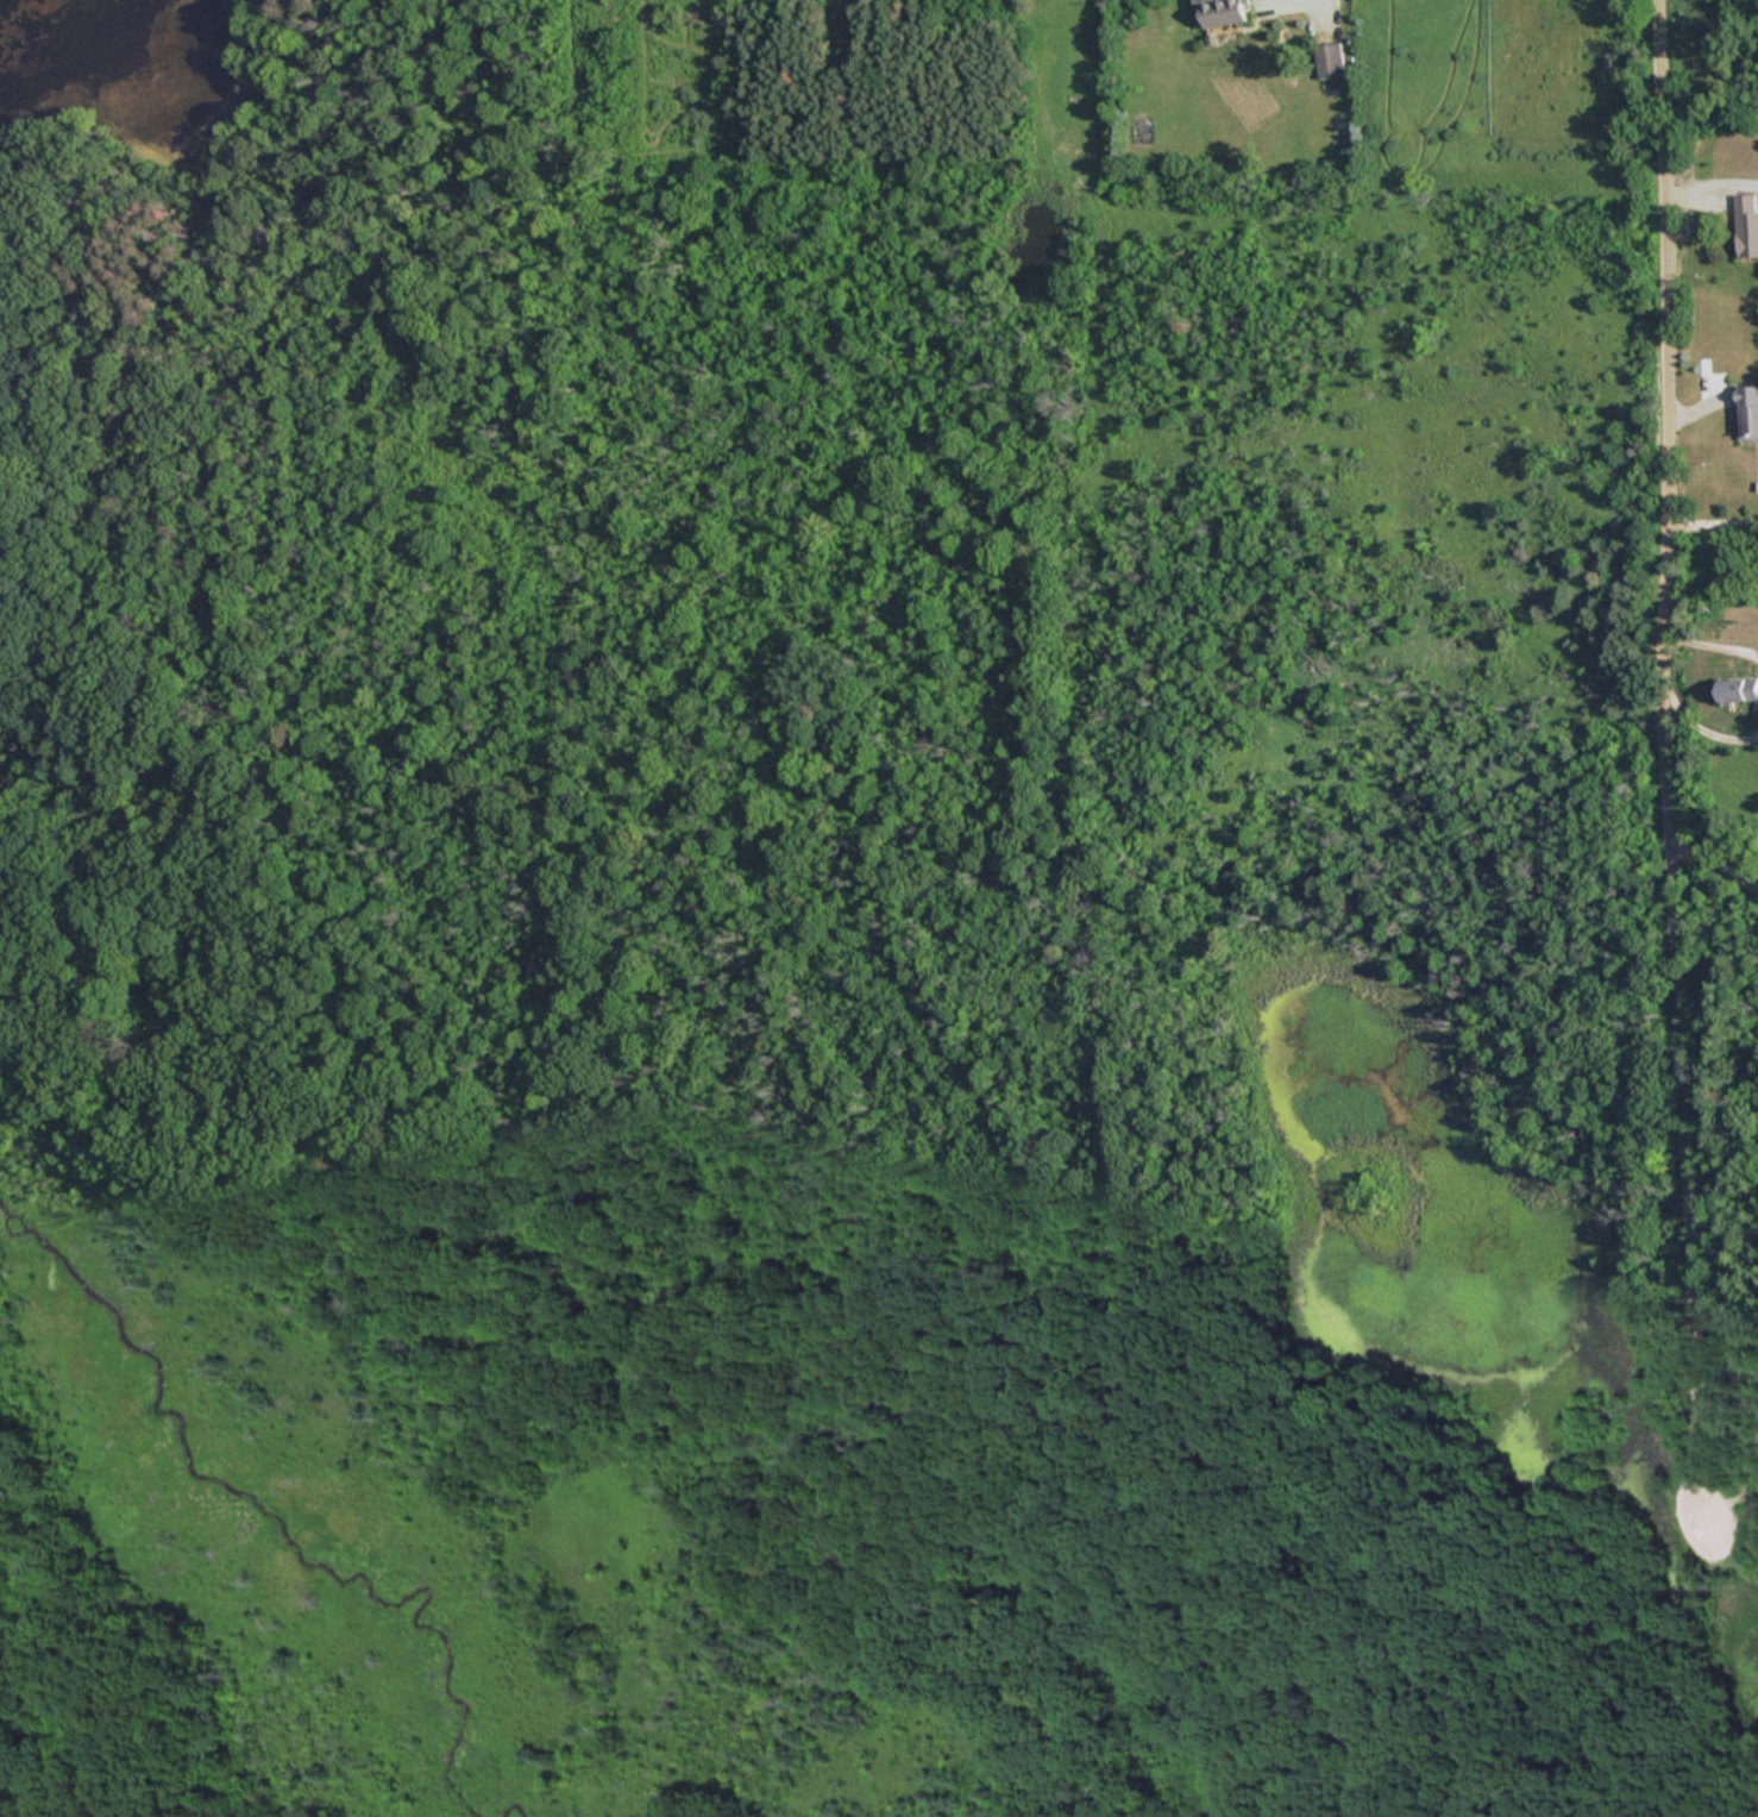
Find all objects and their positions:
building: (1220, 14)
building: (1327, 59)
road: (1718, 183)
building: (1745, 225)
building: (1746, 412)
road: (1716, 524)
building: (1738, 691)
road: (1674, 764)
road: (1716, 871)
park: (808, 1017)
parking lot: (1703, 1522)
road: (1707, 1672)

